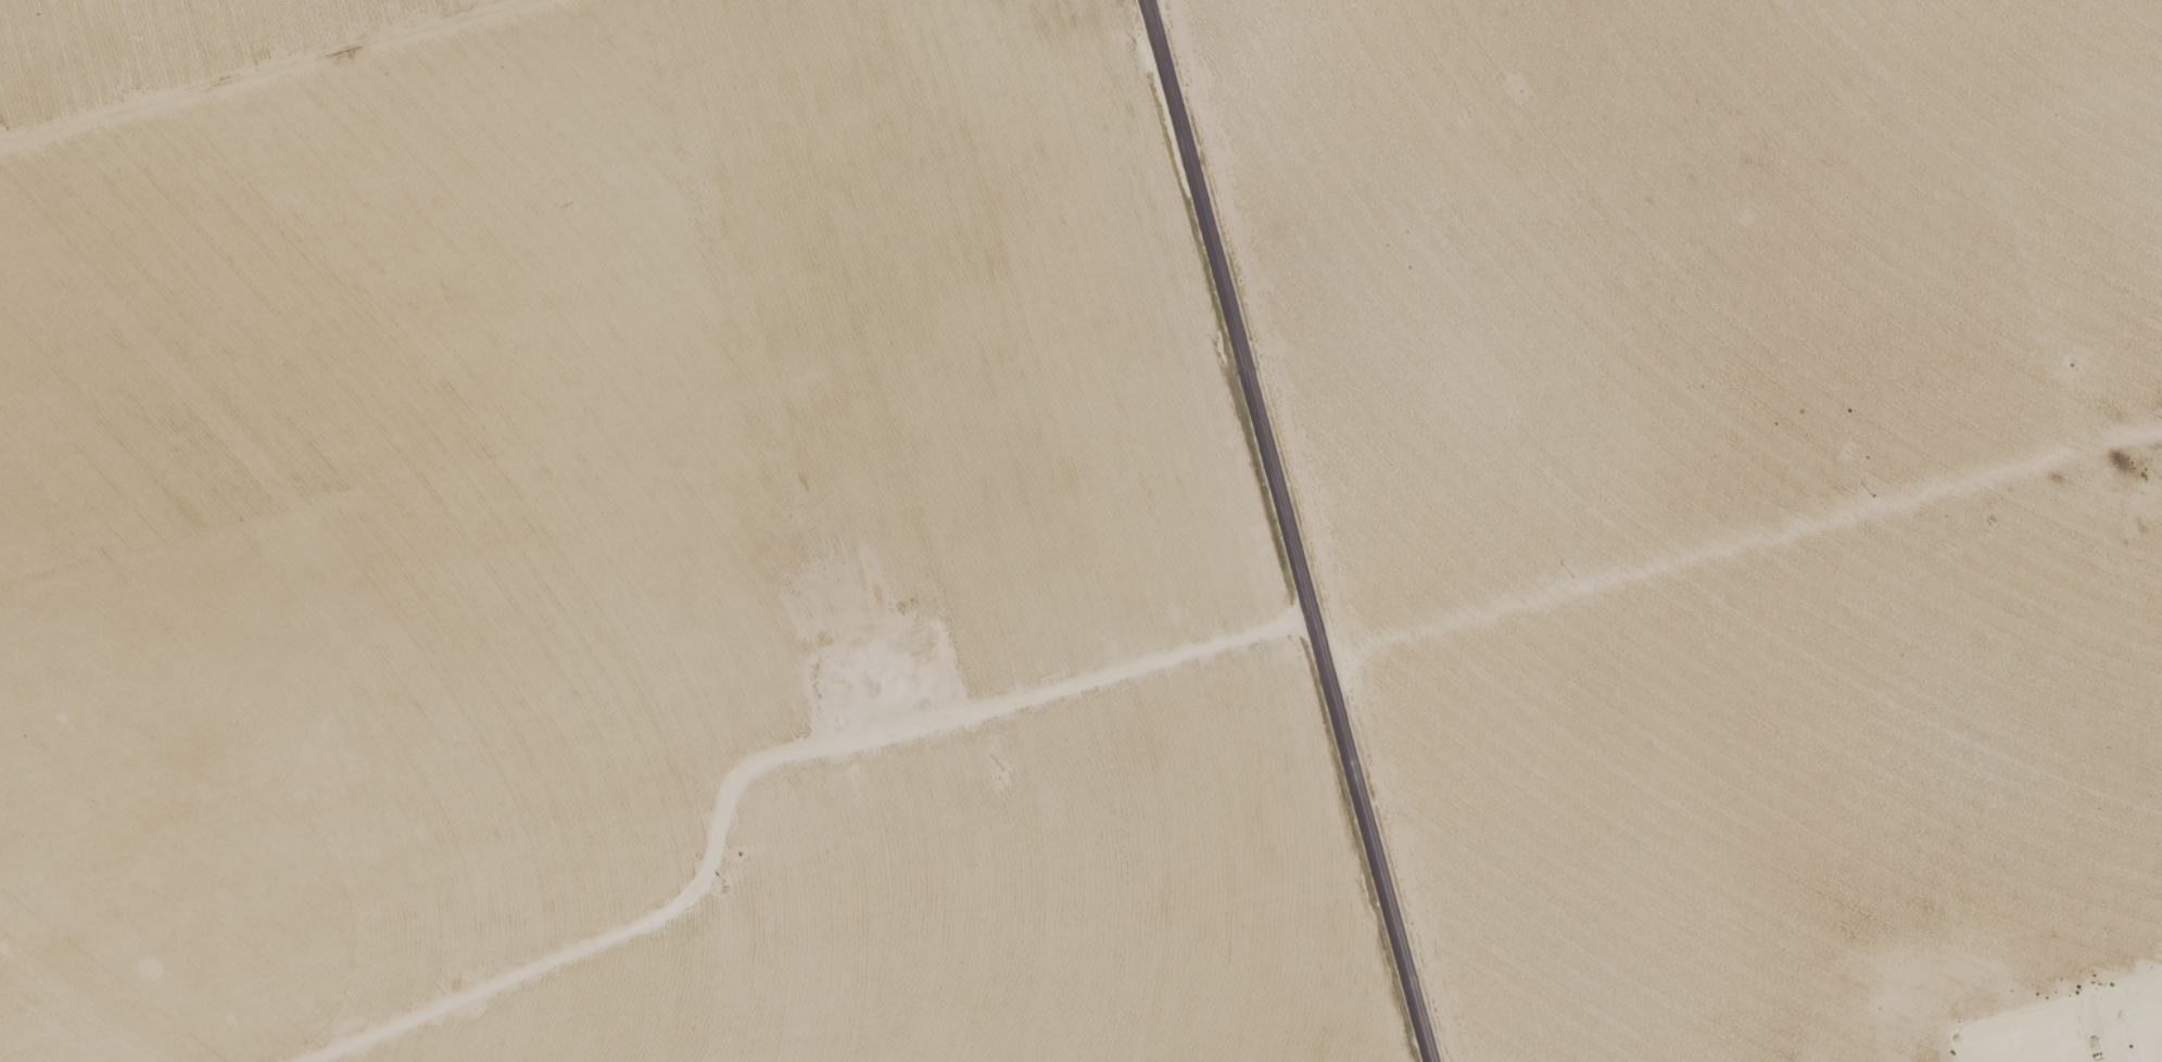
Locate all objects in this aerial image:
road: (1289, 530)
road: (1274, 665)

